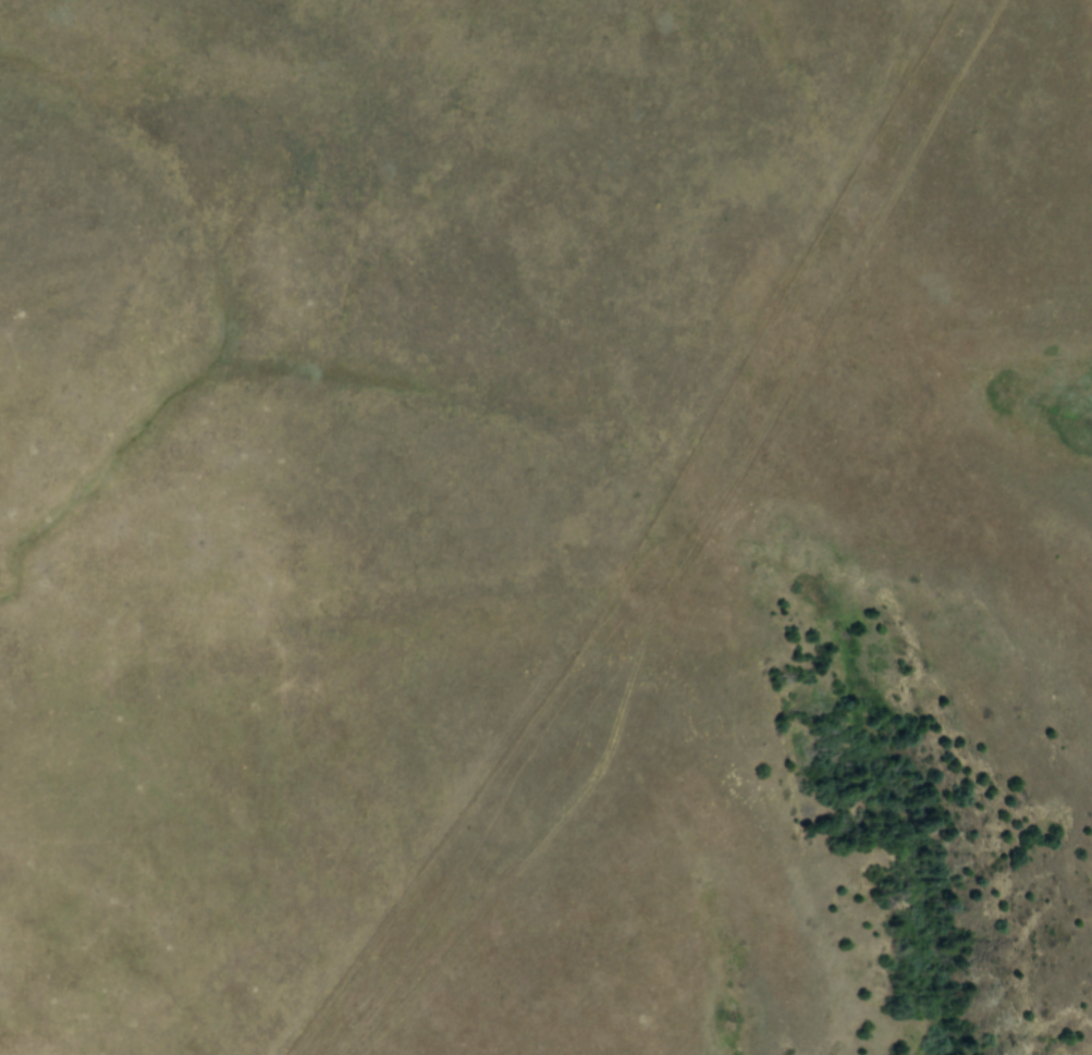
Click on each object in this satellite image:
road: (716, 584)

